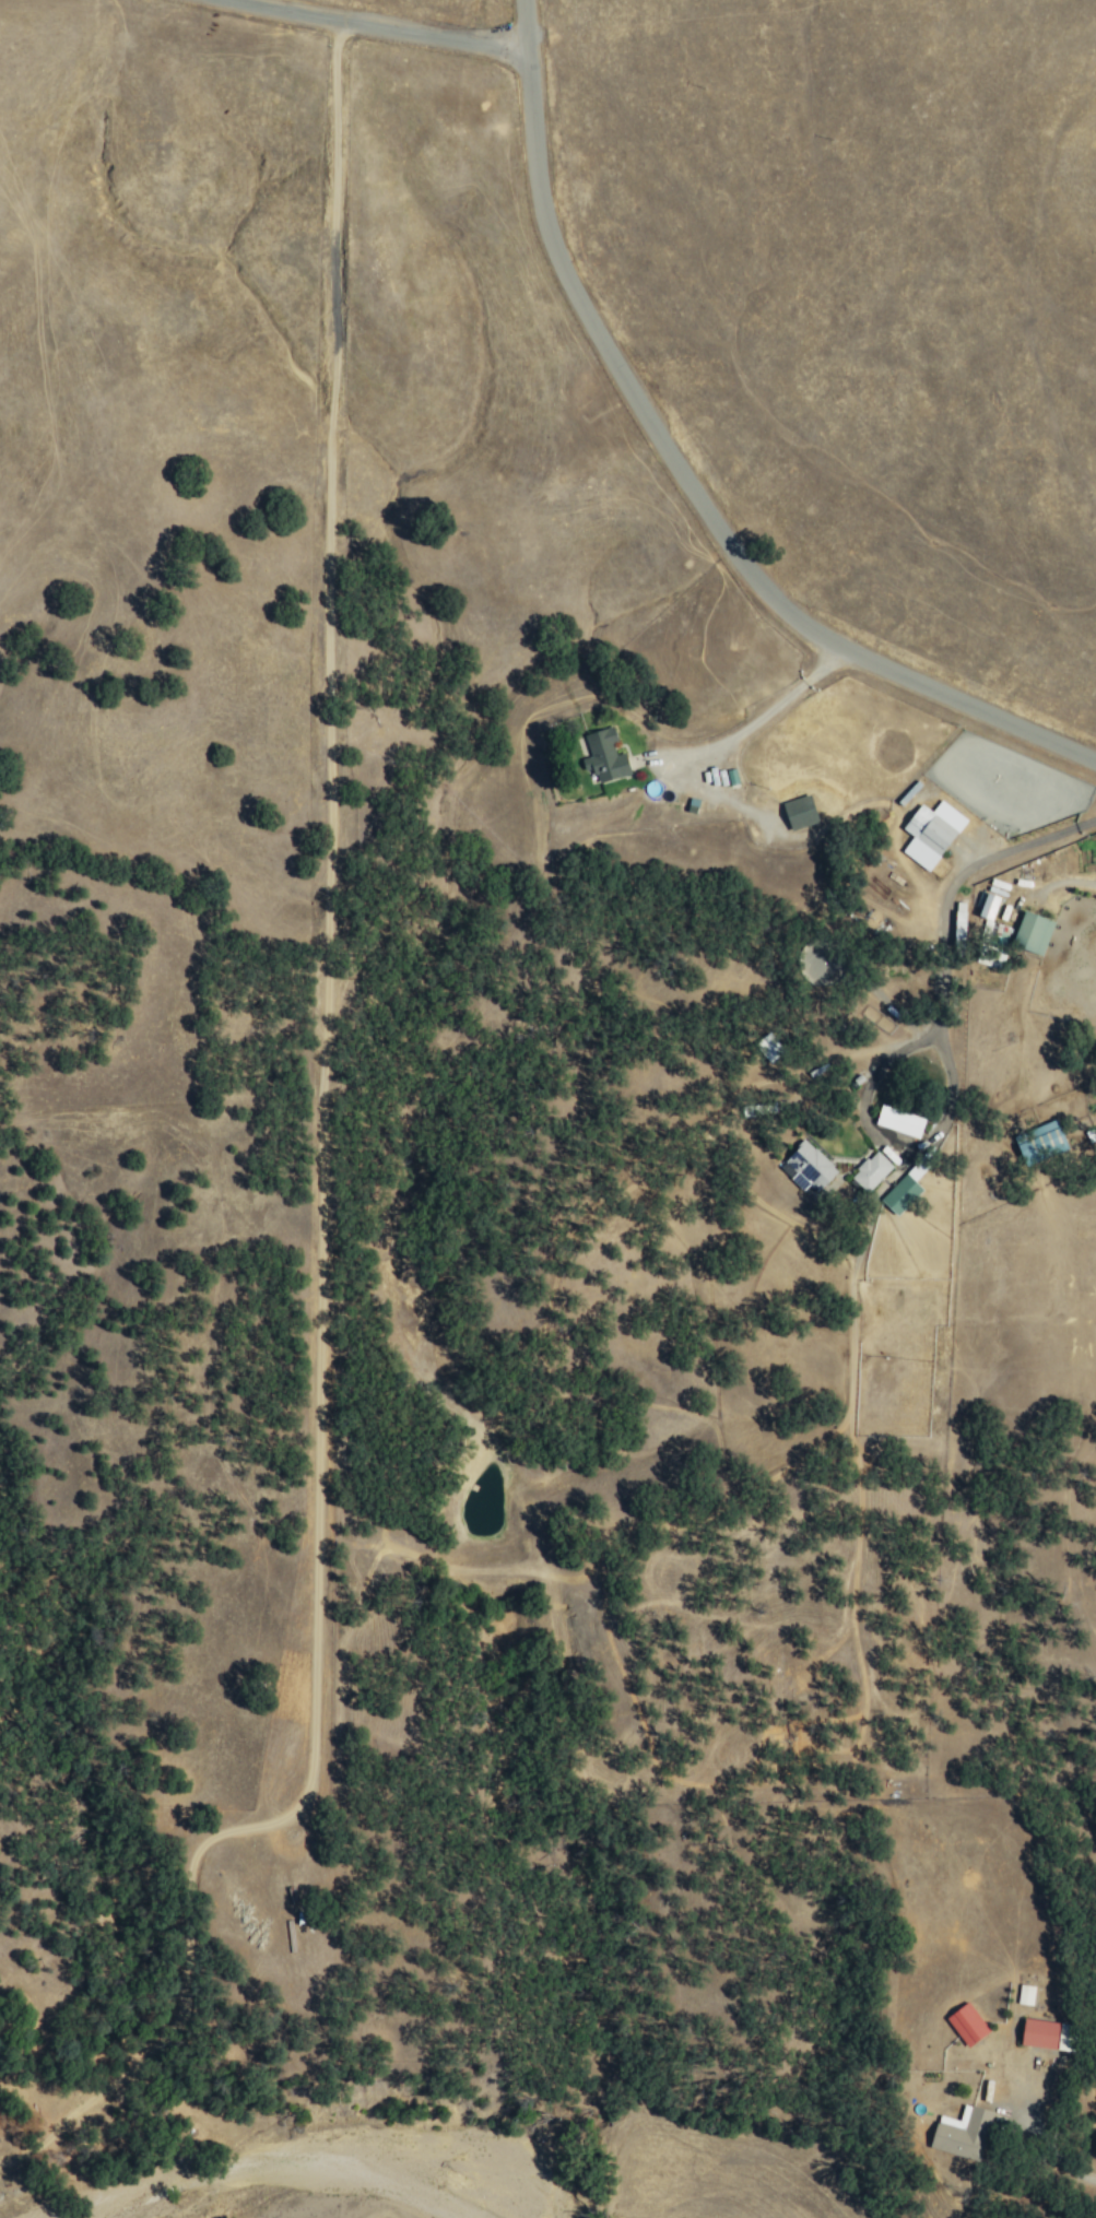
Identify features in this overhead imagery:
road: (378, 27)
road: (682, 479)
building: (603, 757)
building: (800, 812)
building: (929, 830)
building: (989, 906)
building: (1032, 933)
building: (768, 1048)
building: (898, 1122)
building: (1040, 1143)
building: (806, 1167)
building: (870, 1171)
building: (904, 1189)
building: (1024, 1995)
building: (966, 2025)
building: (962, 2133)
river: (294, 2155)
river: (552, 2194)

